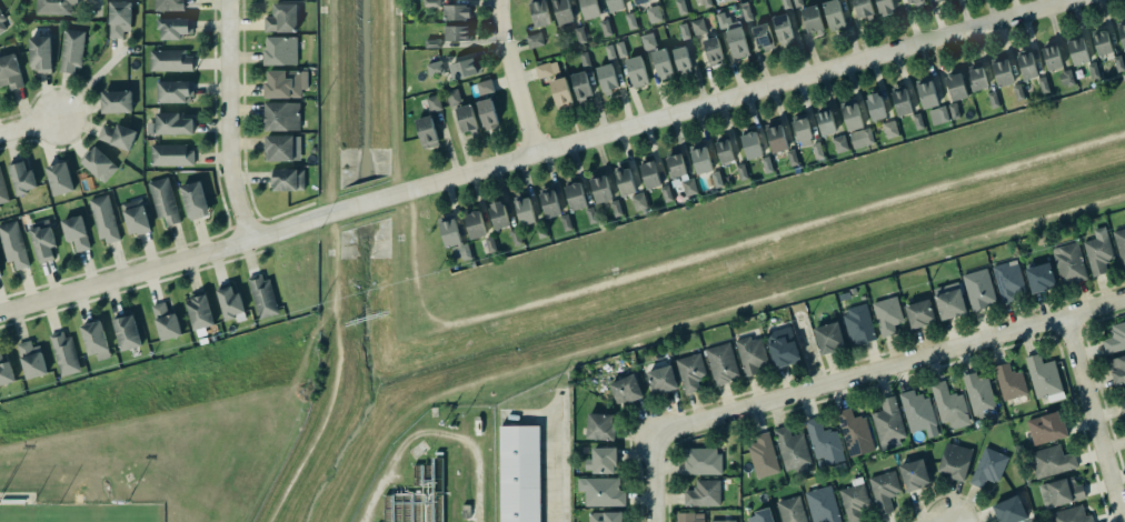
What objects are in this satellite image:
building: (263, 0)
building: (728, 0)
building: (935, 0)
building: (640, 1)
building: (797, 1)
building: (915, 2)
building: (430, 3)
building: (706, 3)
building: (786, 4)
building: (169, 6)
building: (615, 6)
building: (53, 7)
building: (680, 7)
building: (885, 7)
road: (94, 9)
building: (588, 9)
building: (864, 9)
building: (456, 10)
building: (560, 11)
building: (746, 12)
building: (538, 13)
building: (654, 14)
building: (833, 14)
building: (118, 18)
building: (281, 19)
building: (810, 19)
building: (630, 21)
building: (1, 24)
building: (698, 27)
building: (172, 28)
building: (606, 28)
building: (781, 29)
building: (684, 31)
building: (456, 33)
building: (1122, 33)
building: (580, 36)
building: (761, 37)
building: (734, 38)
building: (535, 40)
building: (648, 40)
building: (1101, 41)
building: (431, 43)
building: (620, 48)
building: (71, 49)
building: (710, 50)
building: (1076, 50)
building: (281, 51)
building: (610, 52)
building: (39, 53)
building: (1052, 57)
building: (585, 60)
building: (681, 60)
building: (171, 61)
building: (1119, 63)
building: (663, 64)
building: (1027, 67)
building: (464, 68)
building: (547, 69)
building: (637, 71)
building: (1094, 71)
building: (10, 72)
building: (1003, 73)
road: (511, 77)
building: (976, 77)
building: (607, 78)
building: (1066, 78)
building: (283, 83)
building: (1043, 84)
building: (482, 86)
building: (581, 86)
building: (955, 87)
road: (391, 90)
building: (173, 91)
building: (1018, 92)
building: (561, 93)
building: (927, 93)
building: (452, 97)
road: (330, 100)
building: (993, 100)
building: (117, 102)
building: (900, 102)
building: (434, 103)
building: (874, 108)
building: (954, 111)
building: (486, 114)
building: (852, 114)
building: (938, 116)
building: (281, 117)
building: (467, 119)
road: (227, 121)
building: (917, 121)
building: (824, 123)
building: (171, 124)
road: (26, 128)
building: (800, 130)
building: (889, 130)
building: (426, 132)
building: (116, 135)
building: (776, 137)
building: (860, 138)
building: (840, 144)
building: (750, 145)
building: (282, 148)
building: (725, 151)
road: (531, 152)
building: (172, 155)
building: (699, 159)
building: (99, 164)
building: (765, 164)
building: (741, 172)
building: (648, 175)
building: (59, 178)
building: (22, 179)
building: (288, 180)
building: (625, 182)
building: (2, 190)
building: (599, 190)
building: (665, 193)
building: (574, 197)
building: (162, 200)
building: (195, 200)
road: (250, 200)
road: (321, 200)
building: (639, 201)
building: (548, 204)
building: (616, 208)
road: (286, 211)
building: (525, 211)
building: (497, 215)
building: (589, 215)
building: (135, 217)
road: (257, 218)
building: (104, 220)
building: (565, 222)
building: (475, 225)
building: (76, 233)
building: (516, 237)
building: (454, 238)
building: (41, 240)
building: (12, 244)
building: (1119, 244)
building: (1098, 251)
building: (1069, 263)
building: (1038, 278)
building: (1007, 281)
building: (979, 289)
building: (262, 295)
building: (229, 303)
building: (948, 304)
building: (199, 312)
building: (918, 313)
building: (888, 315)
road: (701, 320)
building: (166, 322)
building: (858, 324)
building: (127, 332)
building: (829, 338)
building: (1115, 339)
building: (93, 340)
building: (780, 348)
building: (63, 353)
building: (750, 355)
building: (30, 360)
building: (720, 363)
road: (887, 368)
building: (1117, 370)
building: (690, 372)
building: (6, 373)
building: (1042, 375)
building: (661, 380)
building: (1008, 381)
building: (624, 390)
building: (979, 394)
building: (1123, 396)
building: (948, 405)
building: (918, 413)
road: (1091, 420)
building: (599, 426)
building: (1047, 428)
building: (855, 433)
building: (823, 442)
building: (790, 450)
building: (761, 455)
road: (557, 458)
building: (601, 461)
building: (701, 461)
building: (955, 461)
building: (1049, 461)
building: (988, 468)
wastewater plant: (434, 471)
building: (519, 473)
building: (913, 475)
road: (651, 480)
building: (884, 490)
building: (604, 492)
building: (1061, 492)
building: (704, 493)
building: (855, 500)
building: (823, 504)
building: (790, 510)
building: (1008, 510)
park: (80, 513)
building: (760, 515)
building: (1068, 515)
building: (604, 516)
building: (690, 516)
building: (723, 521)

